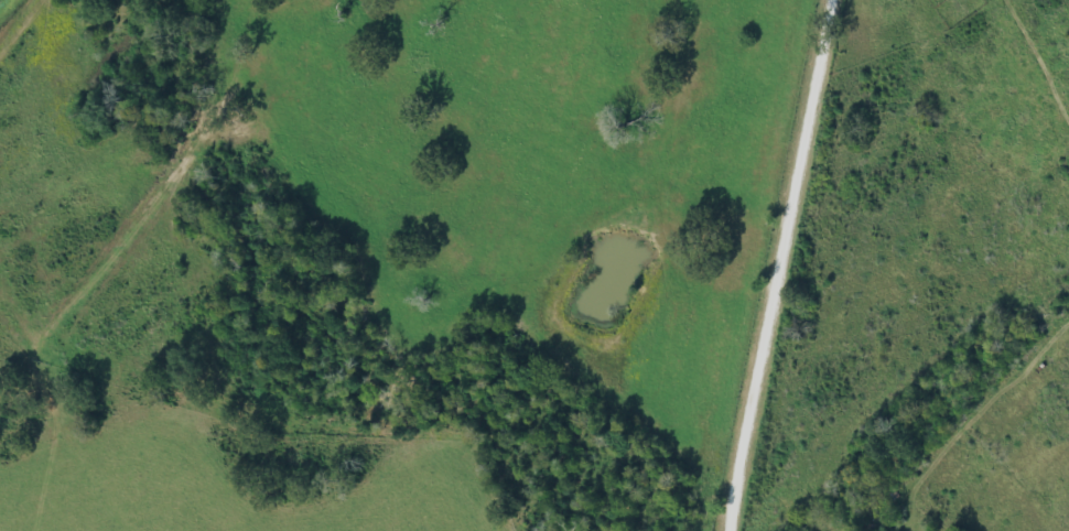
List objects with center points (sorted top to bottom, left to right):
road: (1038, 63)
road: (776, 265)

